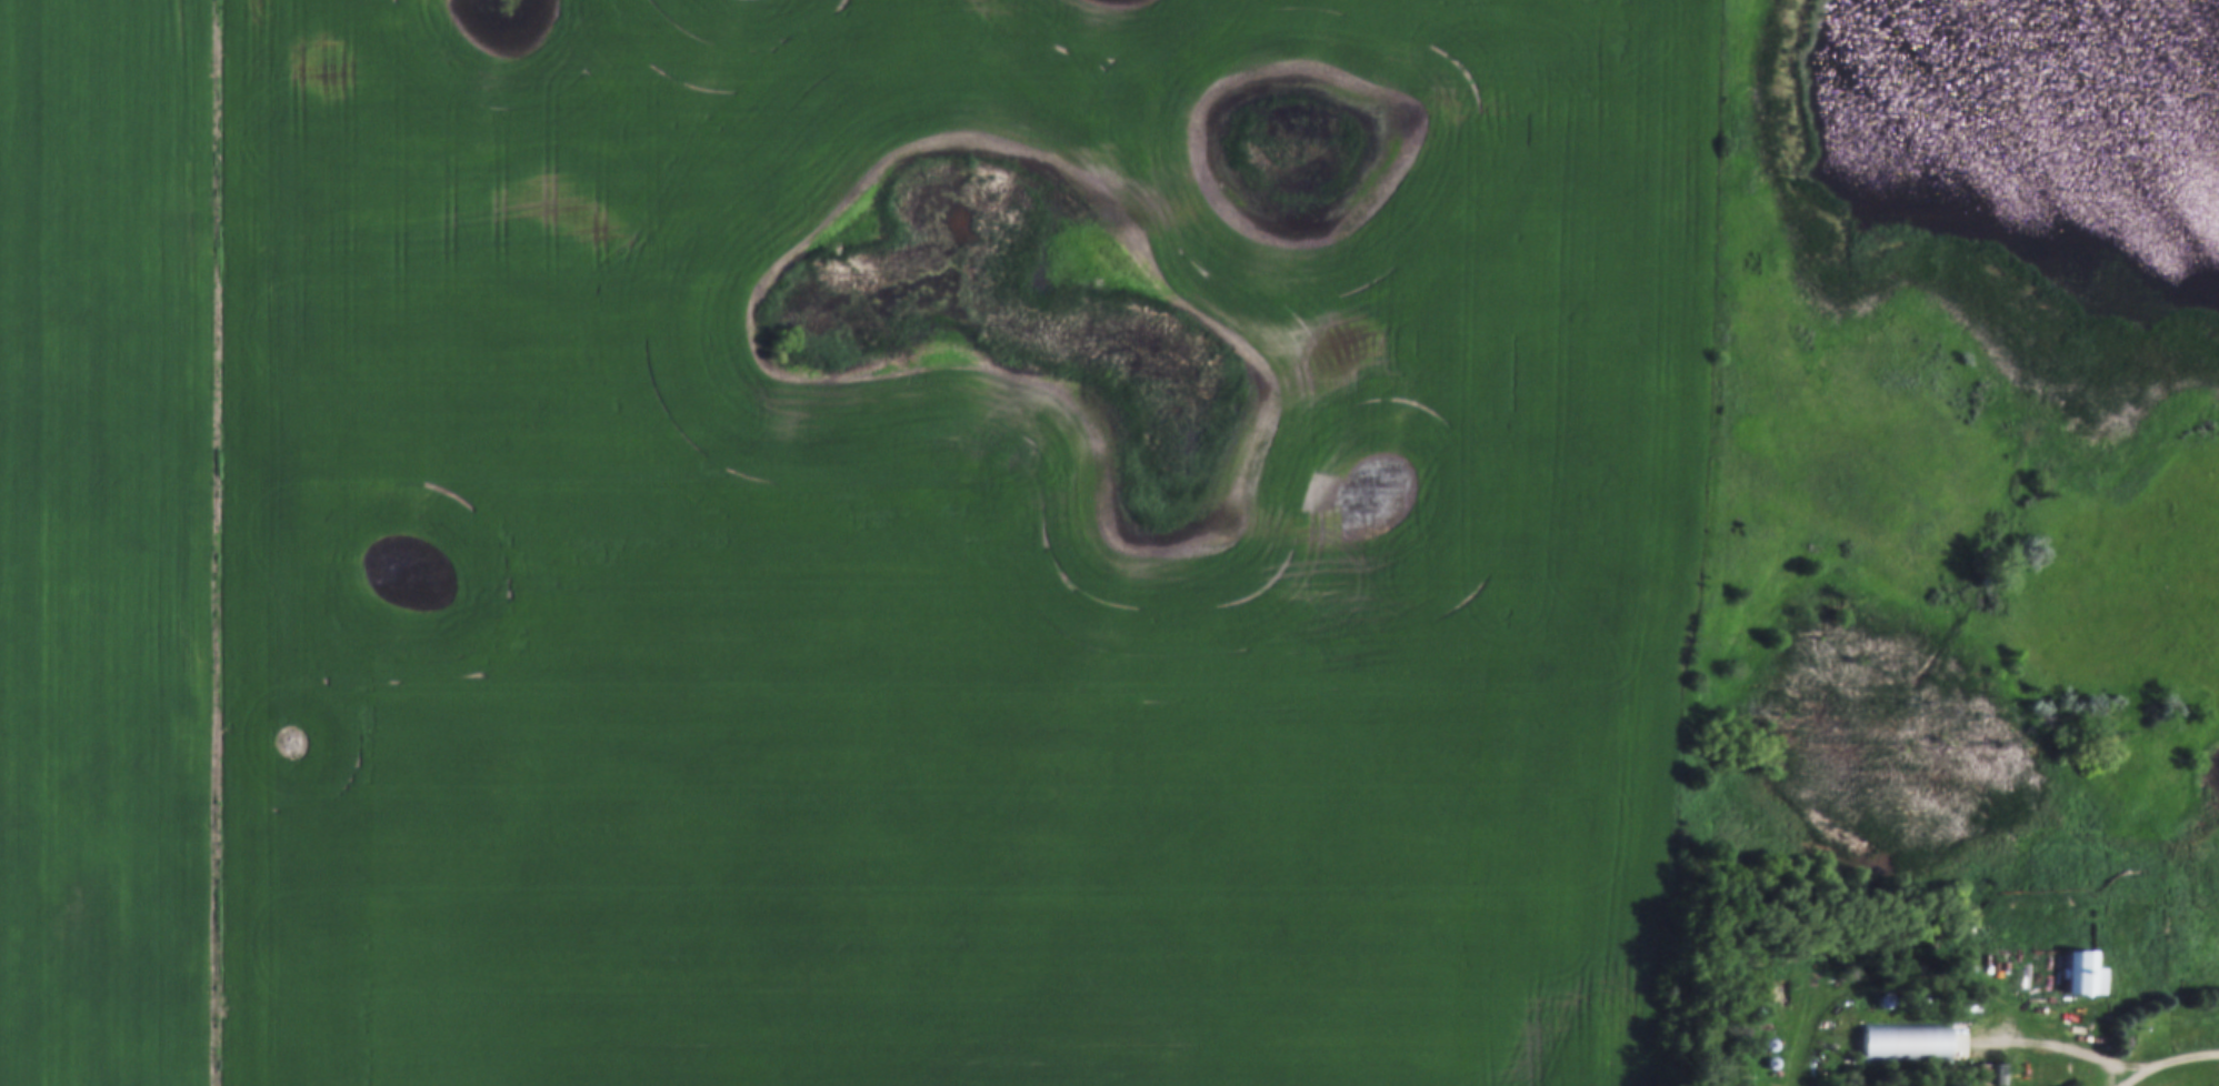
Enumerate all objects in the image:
building: (2082, 976)
road: (2172, 1059)
building: (1990, 1076)

